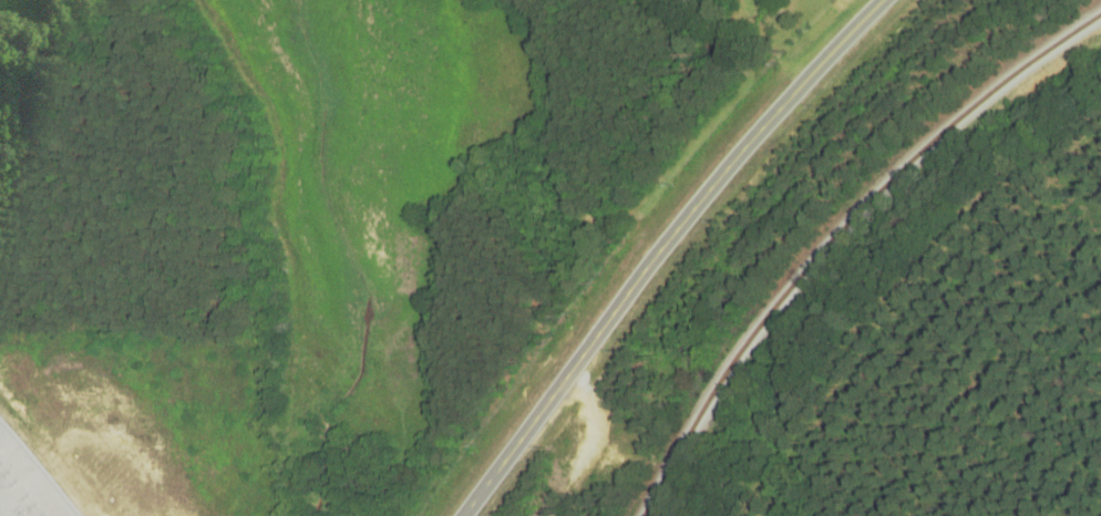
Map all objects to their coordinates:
railway: (838, 234)
road: (662, 247)

